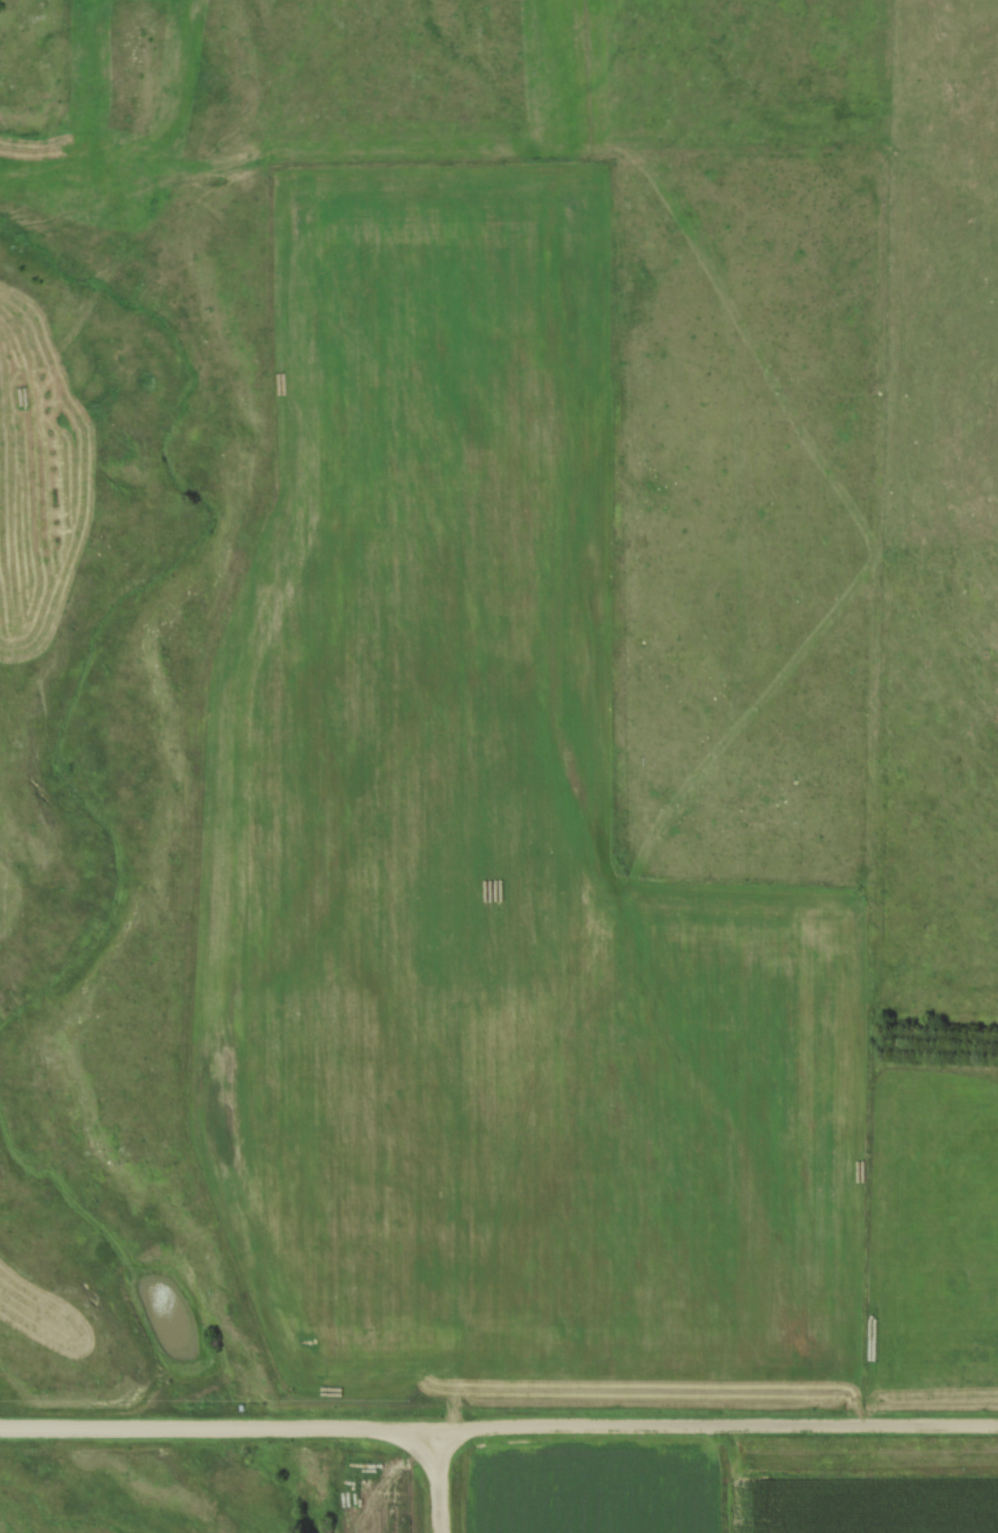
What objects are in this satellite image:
road: (219, 1428)
road: (718, 1429)
road: (439, 1482)

